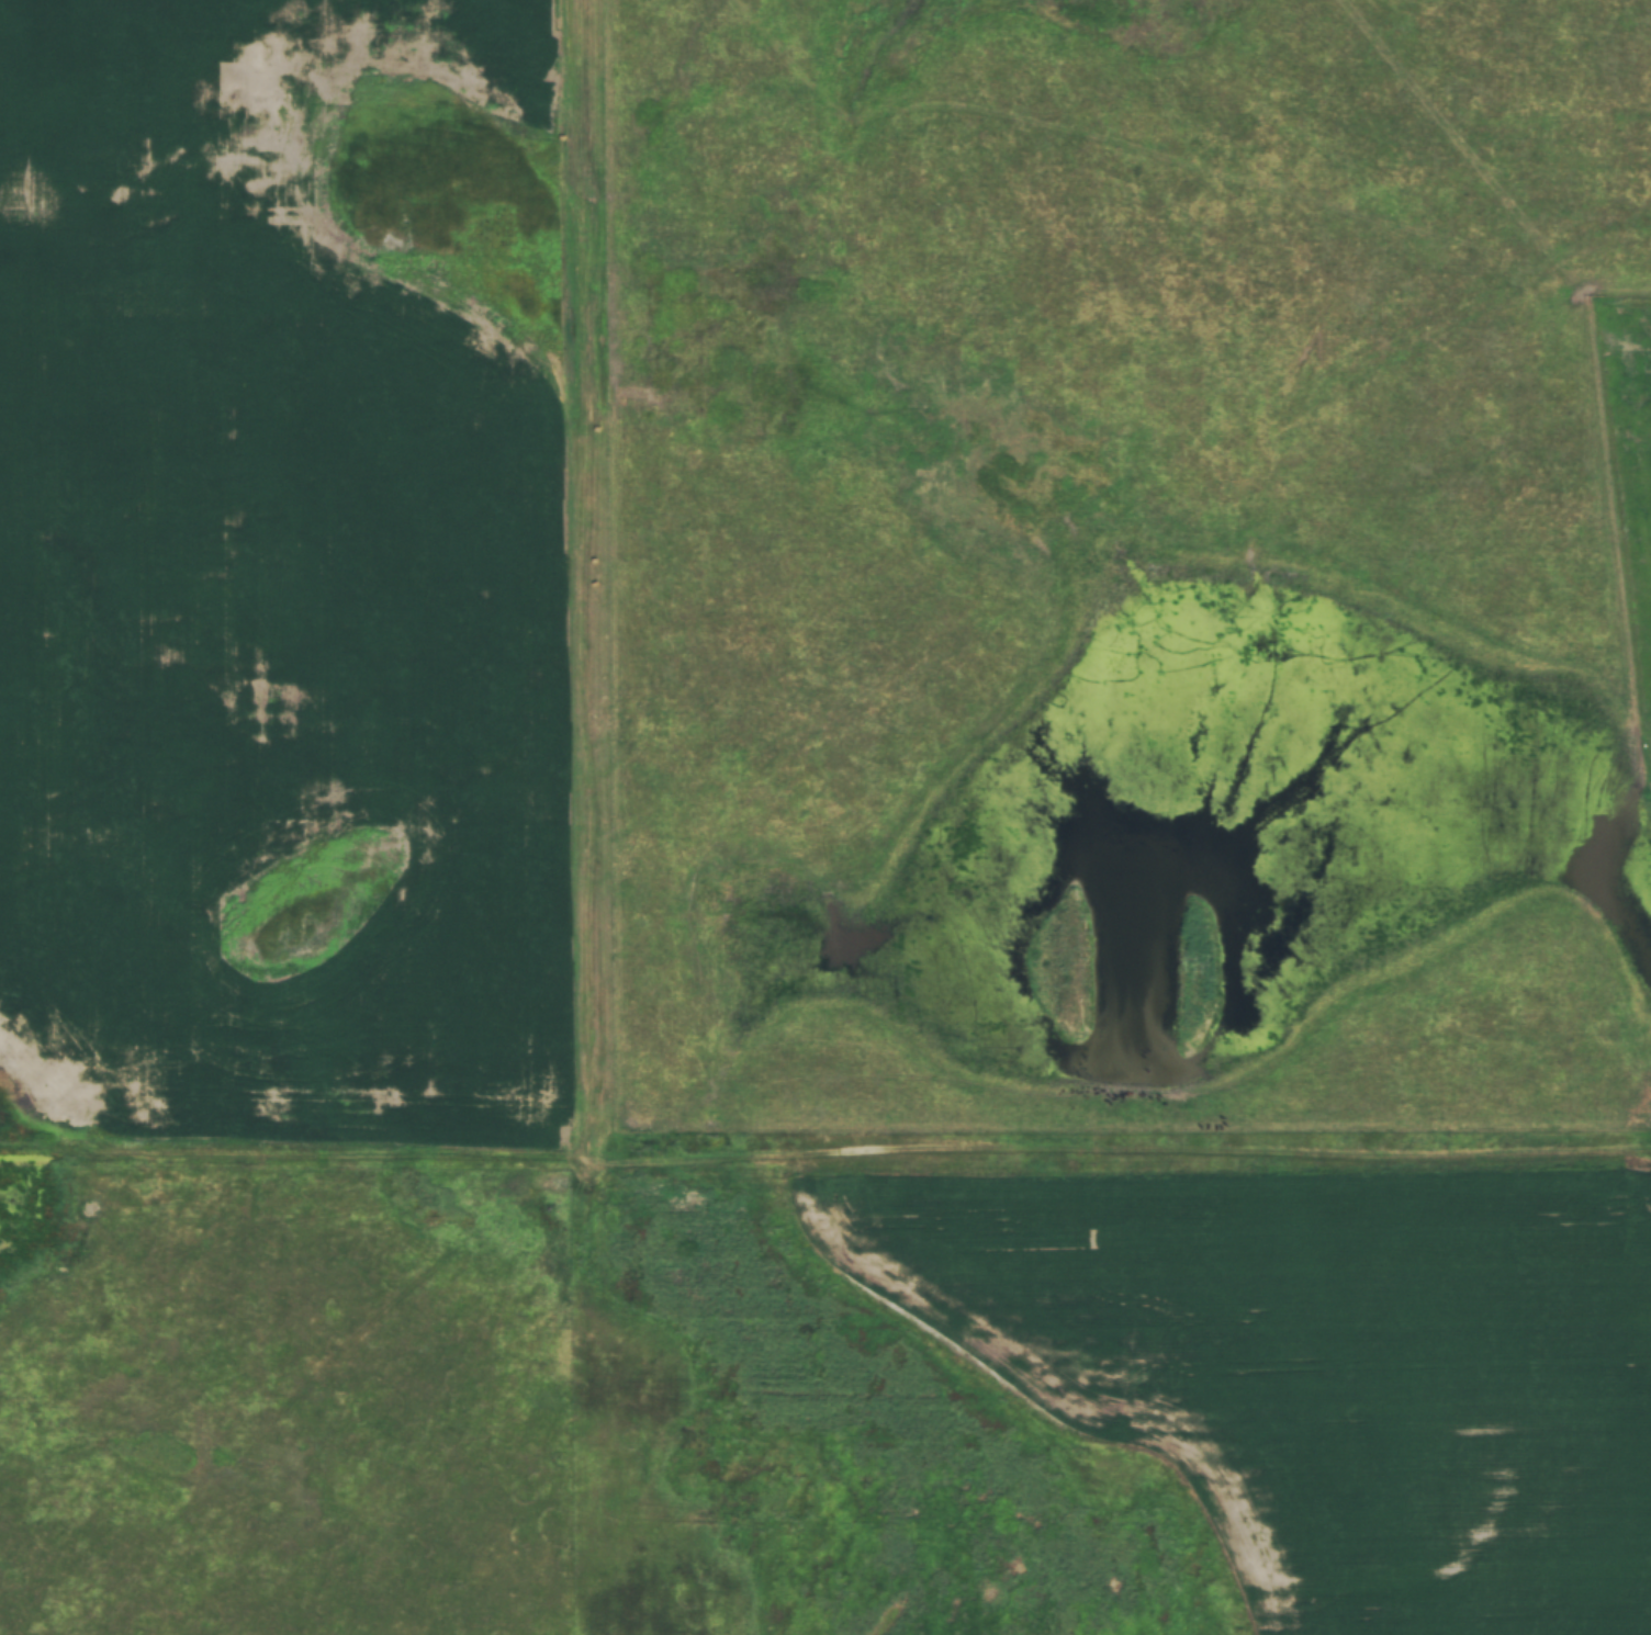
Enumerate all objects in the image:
road: (582, 582)
road: (1119, 1144)
road: (293, 1162)

